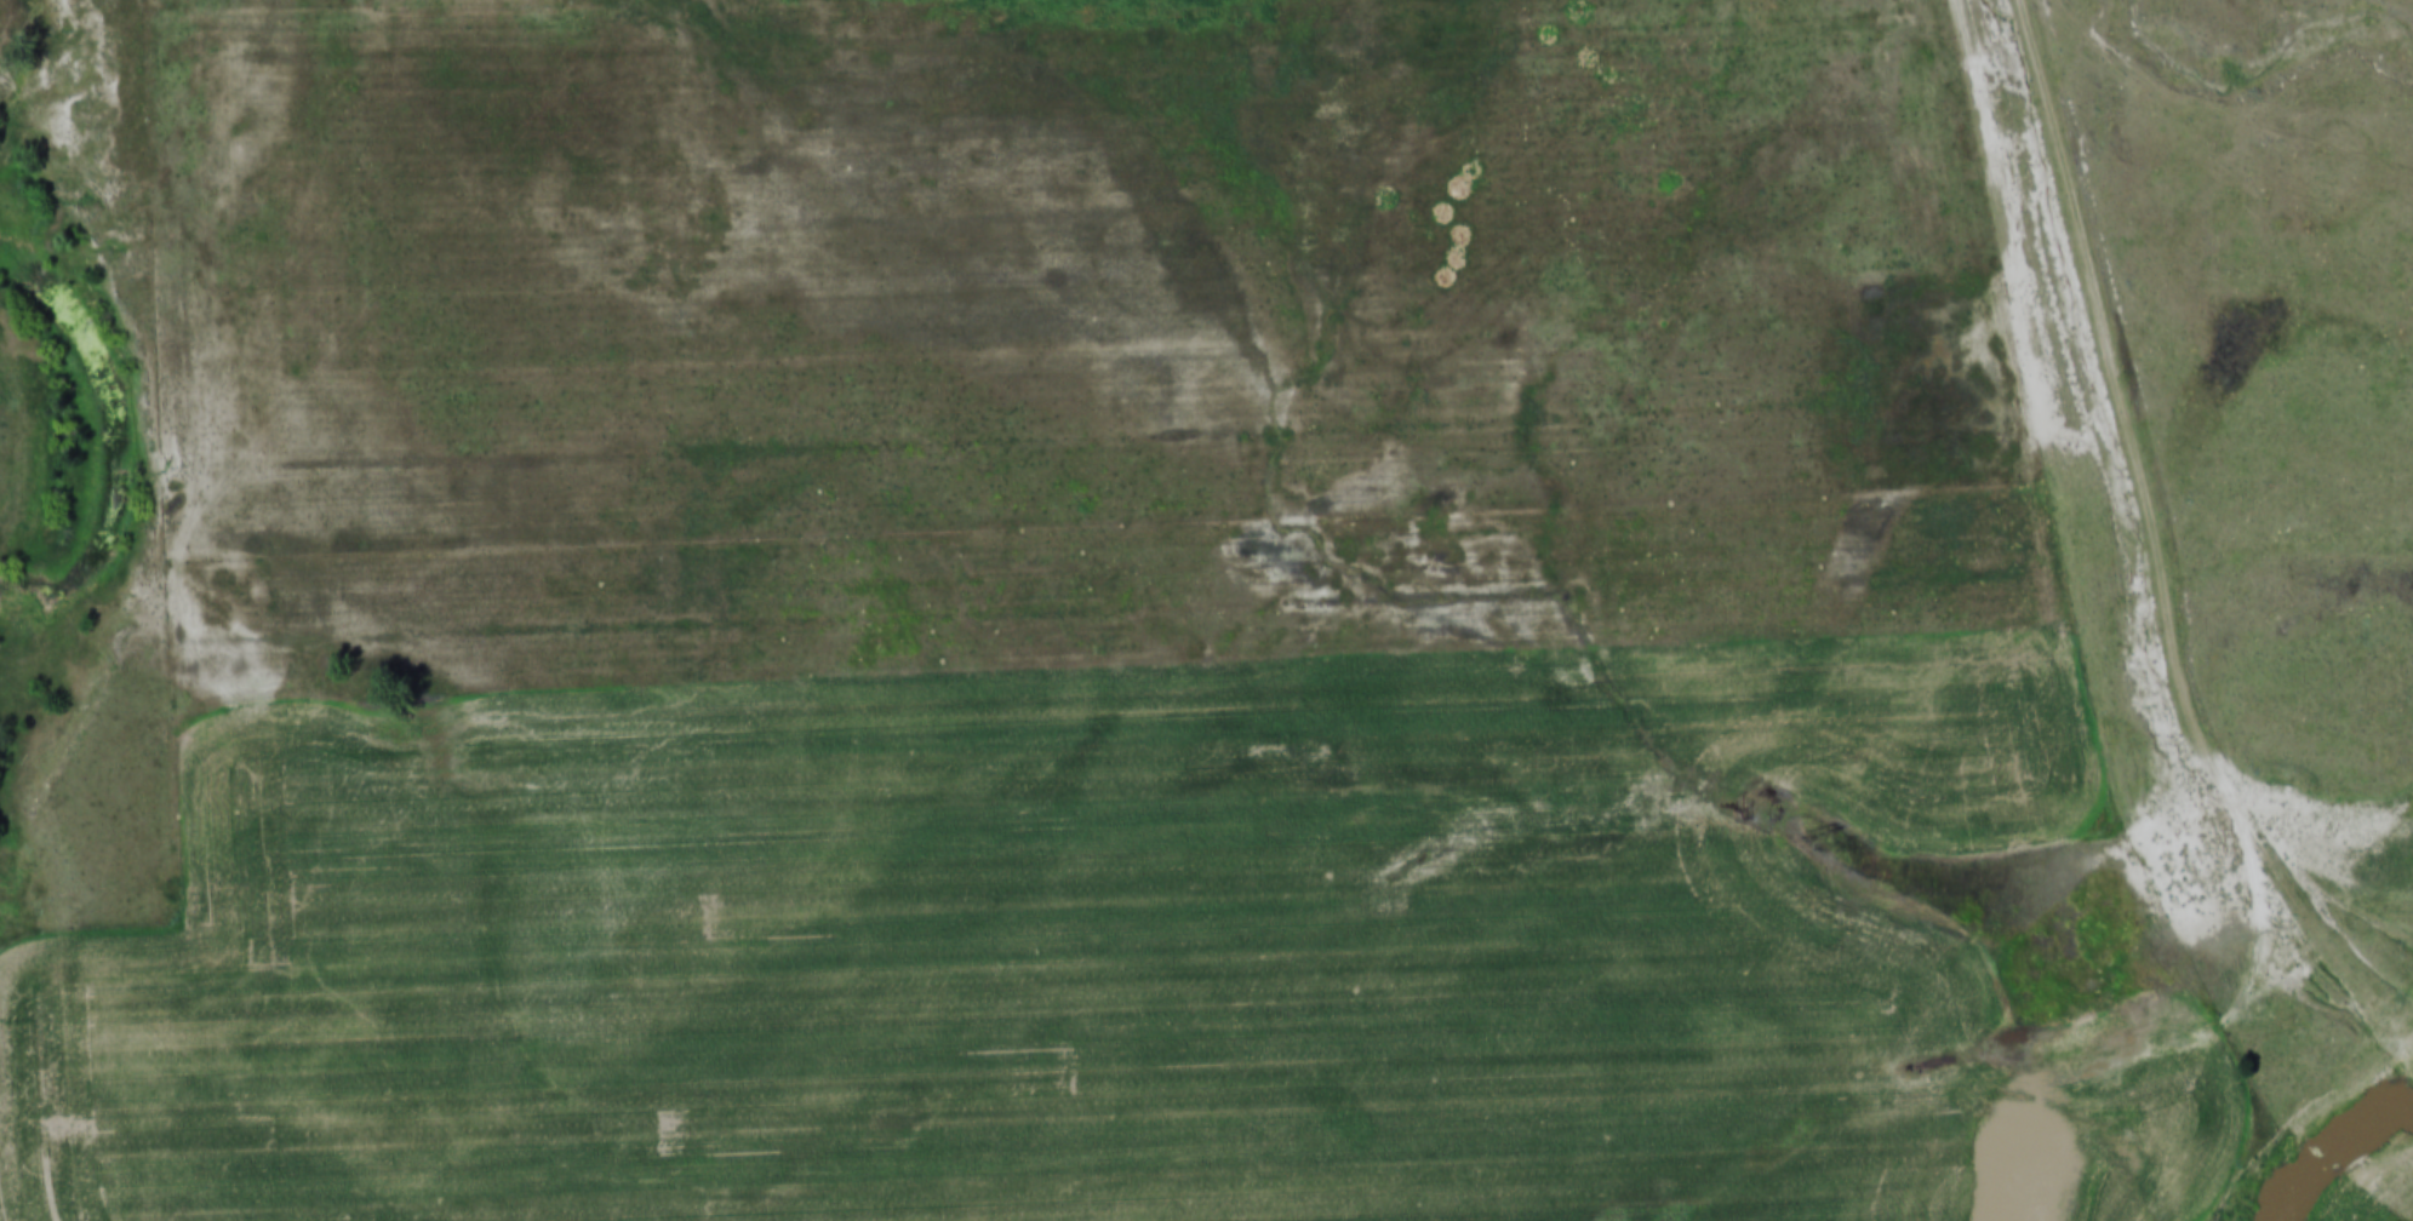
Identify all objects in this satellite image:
road: (2162, 548)
river: (2328, 1141)

